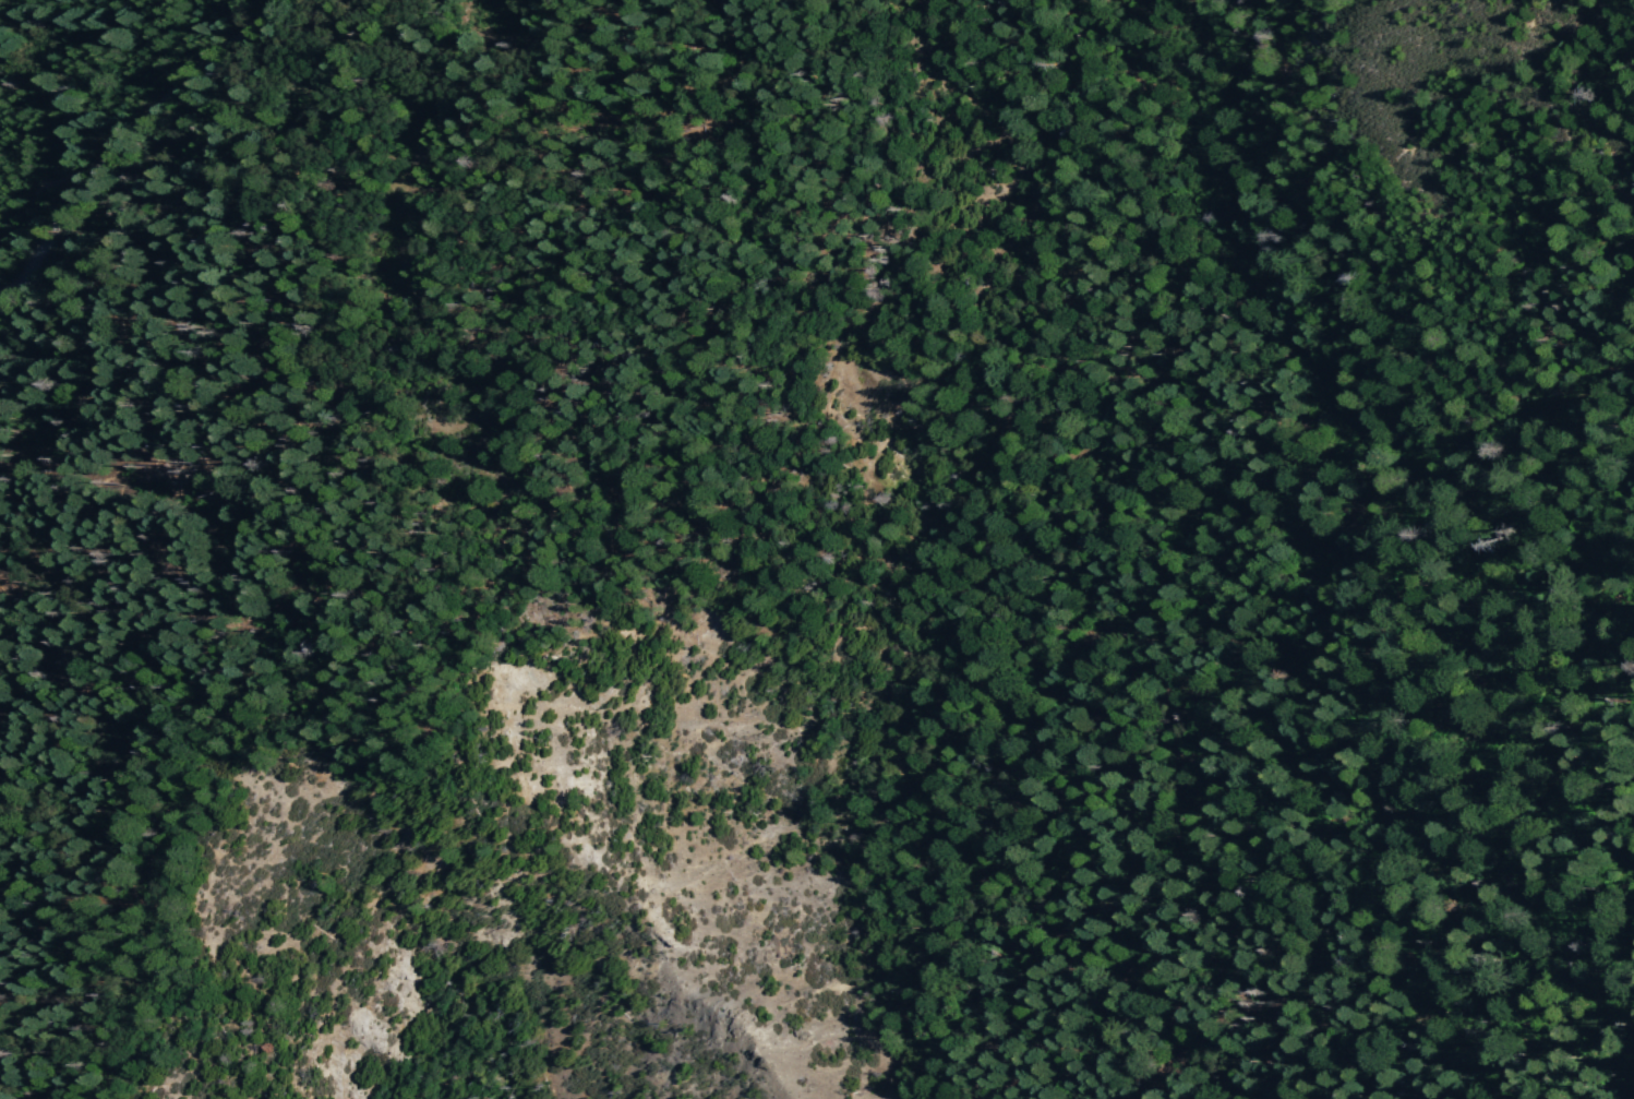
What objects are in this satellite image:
road: (124, 142)
road: (3, 288)

